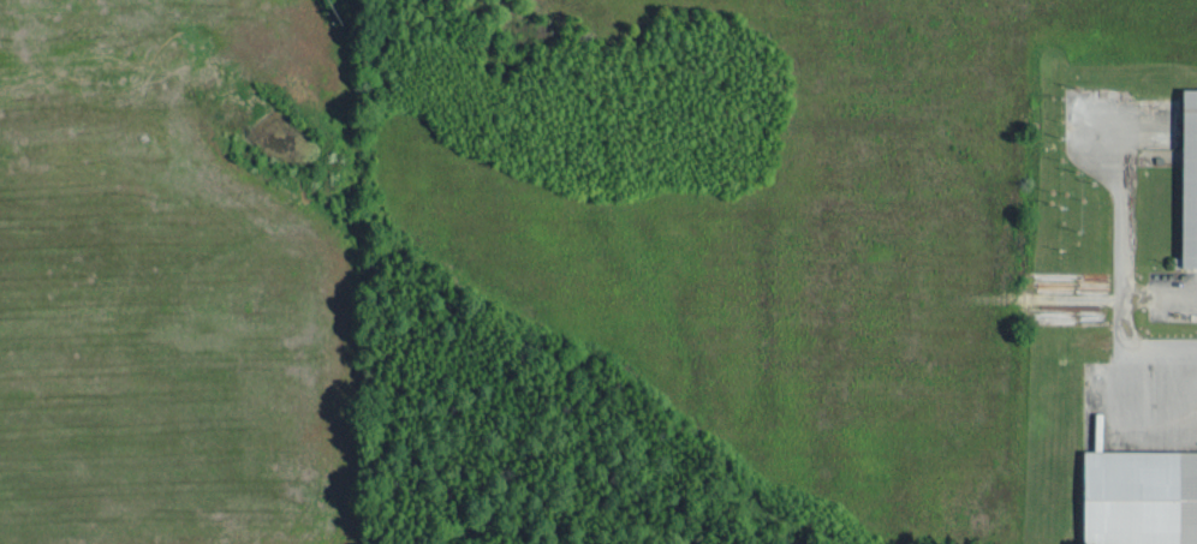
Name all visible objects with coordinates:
building: (1191, 175)
road: (1115, 321)
building: (1142, 495)

